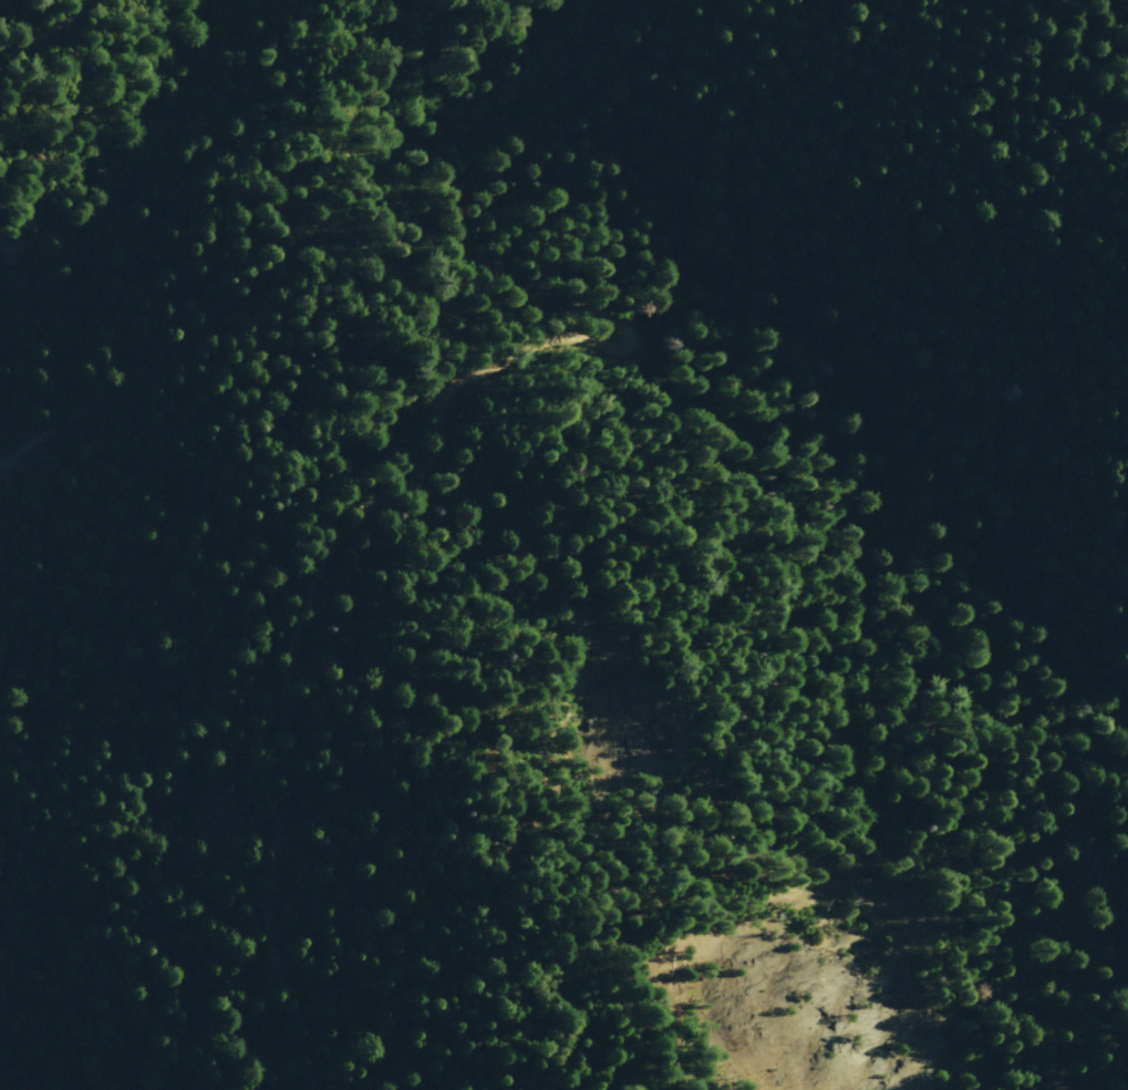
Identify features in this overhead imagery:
road: (51, 34)
road: (505, 374)

